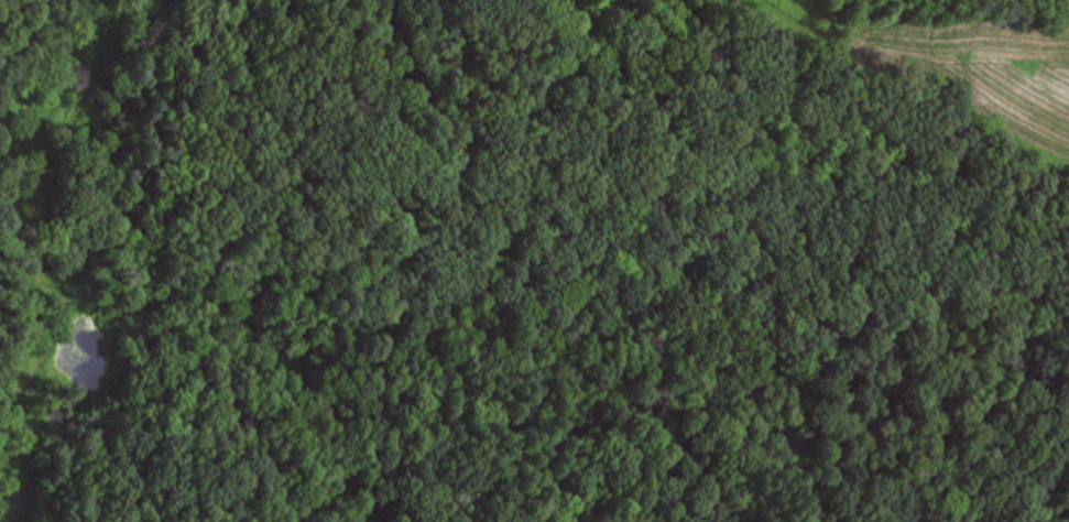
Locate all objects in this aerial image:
crop: (1021, 80)

